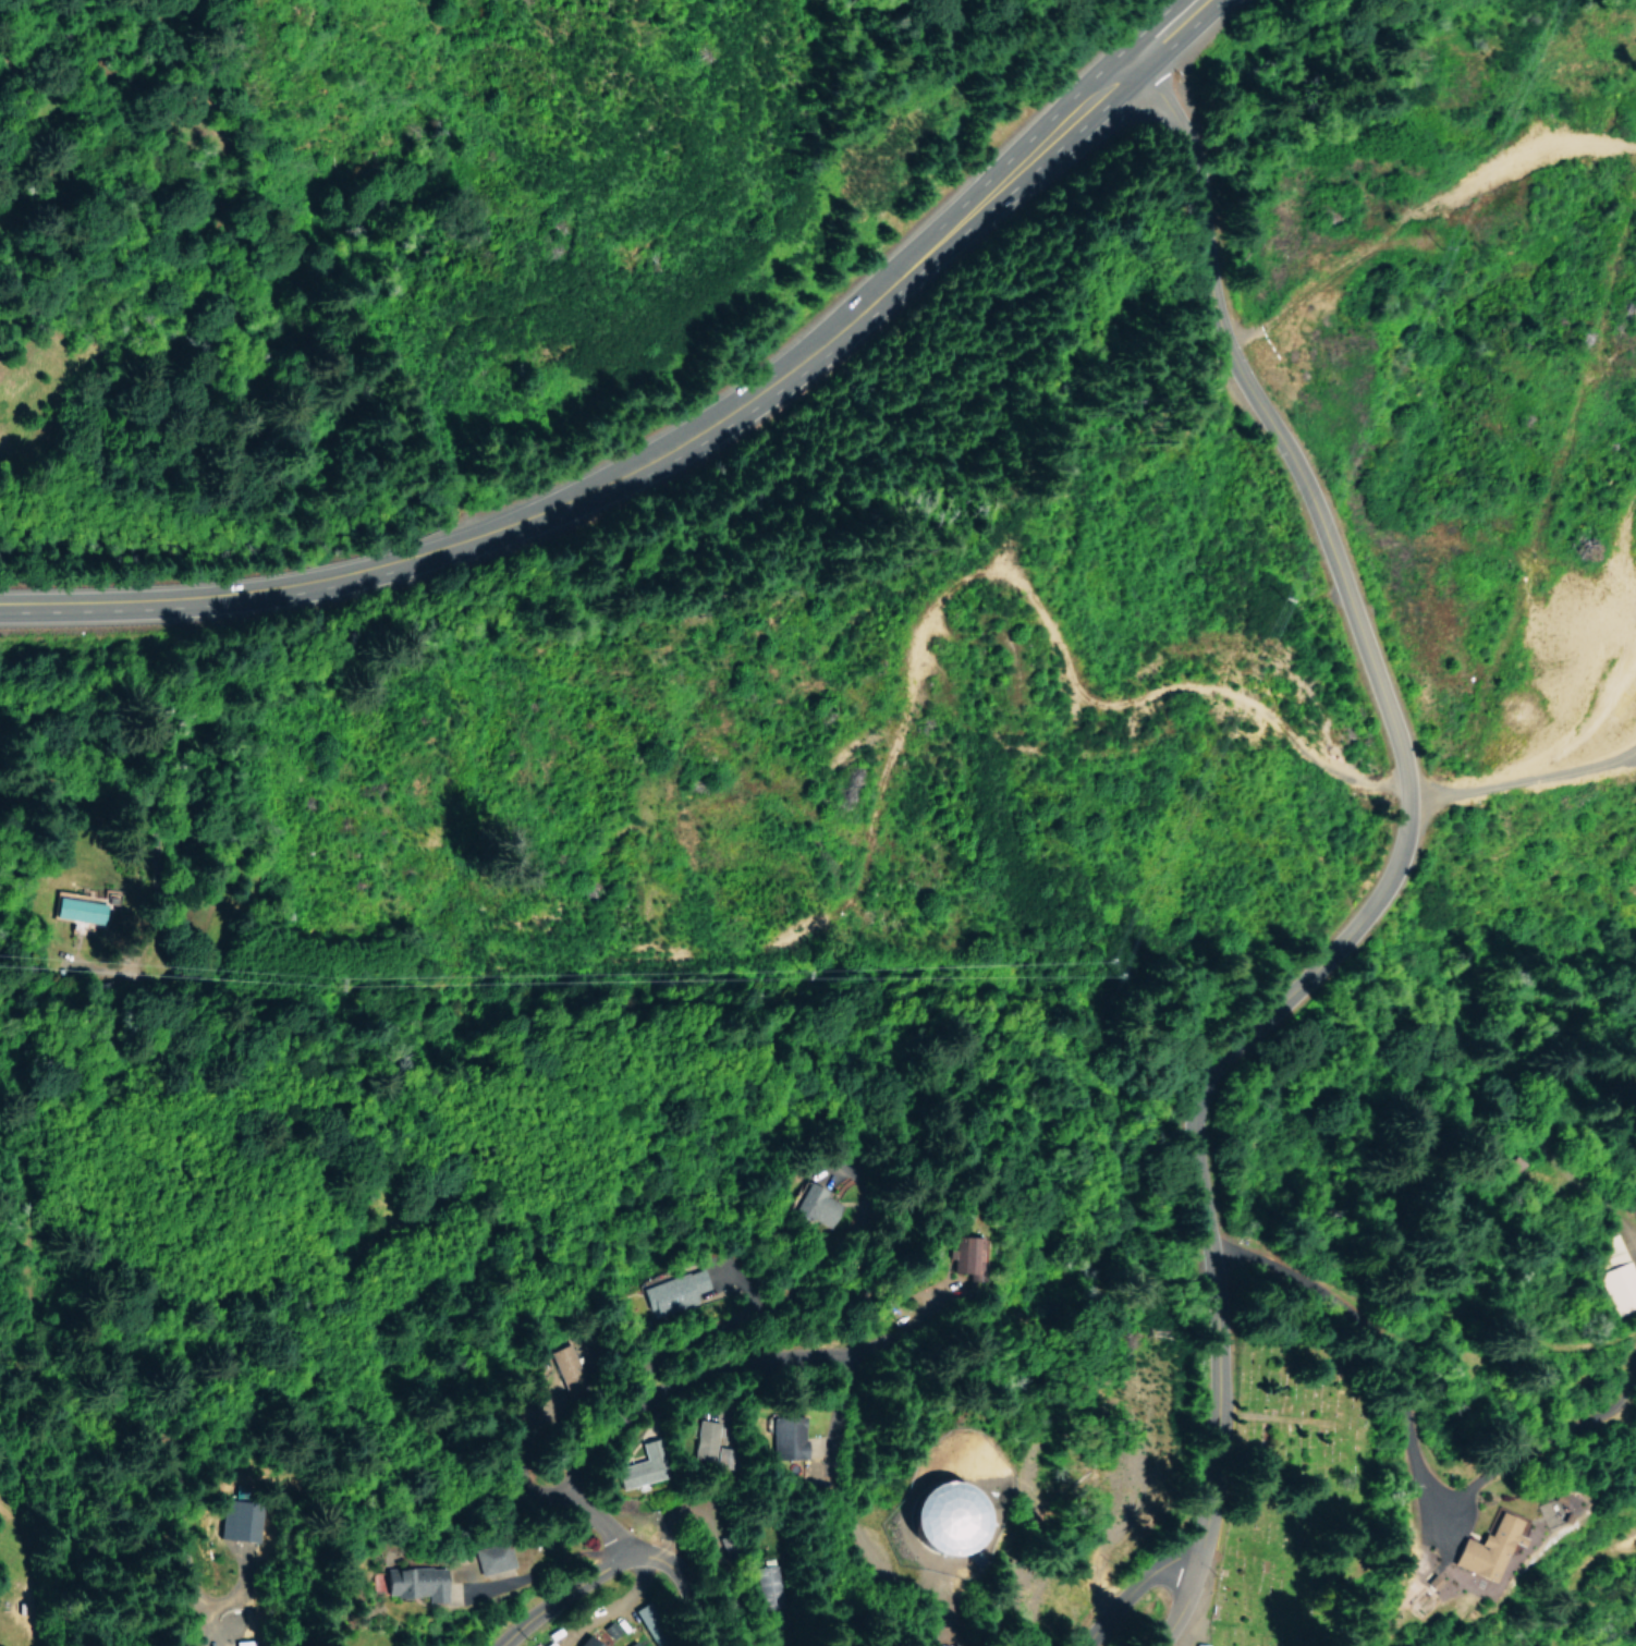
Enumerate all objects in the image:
road: (1057, 136)
road: (487, 533)
road: (1373, 670)
road: (1066, 1174)
building: (961, 1253)
building: (1619, 1277)
building: (674, 1291)
road: (757, 1309)
road: (675, 1383)
building: (781, 1436)
building: (703, 1439)
road: (416, 1449)
road: (1221, 1450)
building: (640, 1466)
building: (921, 1515)
building: (237, 1521)
building: (1485, 1547)
building: (487, 1557)
building: (406, 1582)
road: (561, 1582)
road: (1145, 1586)
road: (650, 1638)
building: (905, 1641)
building: (584, 1642)

